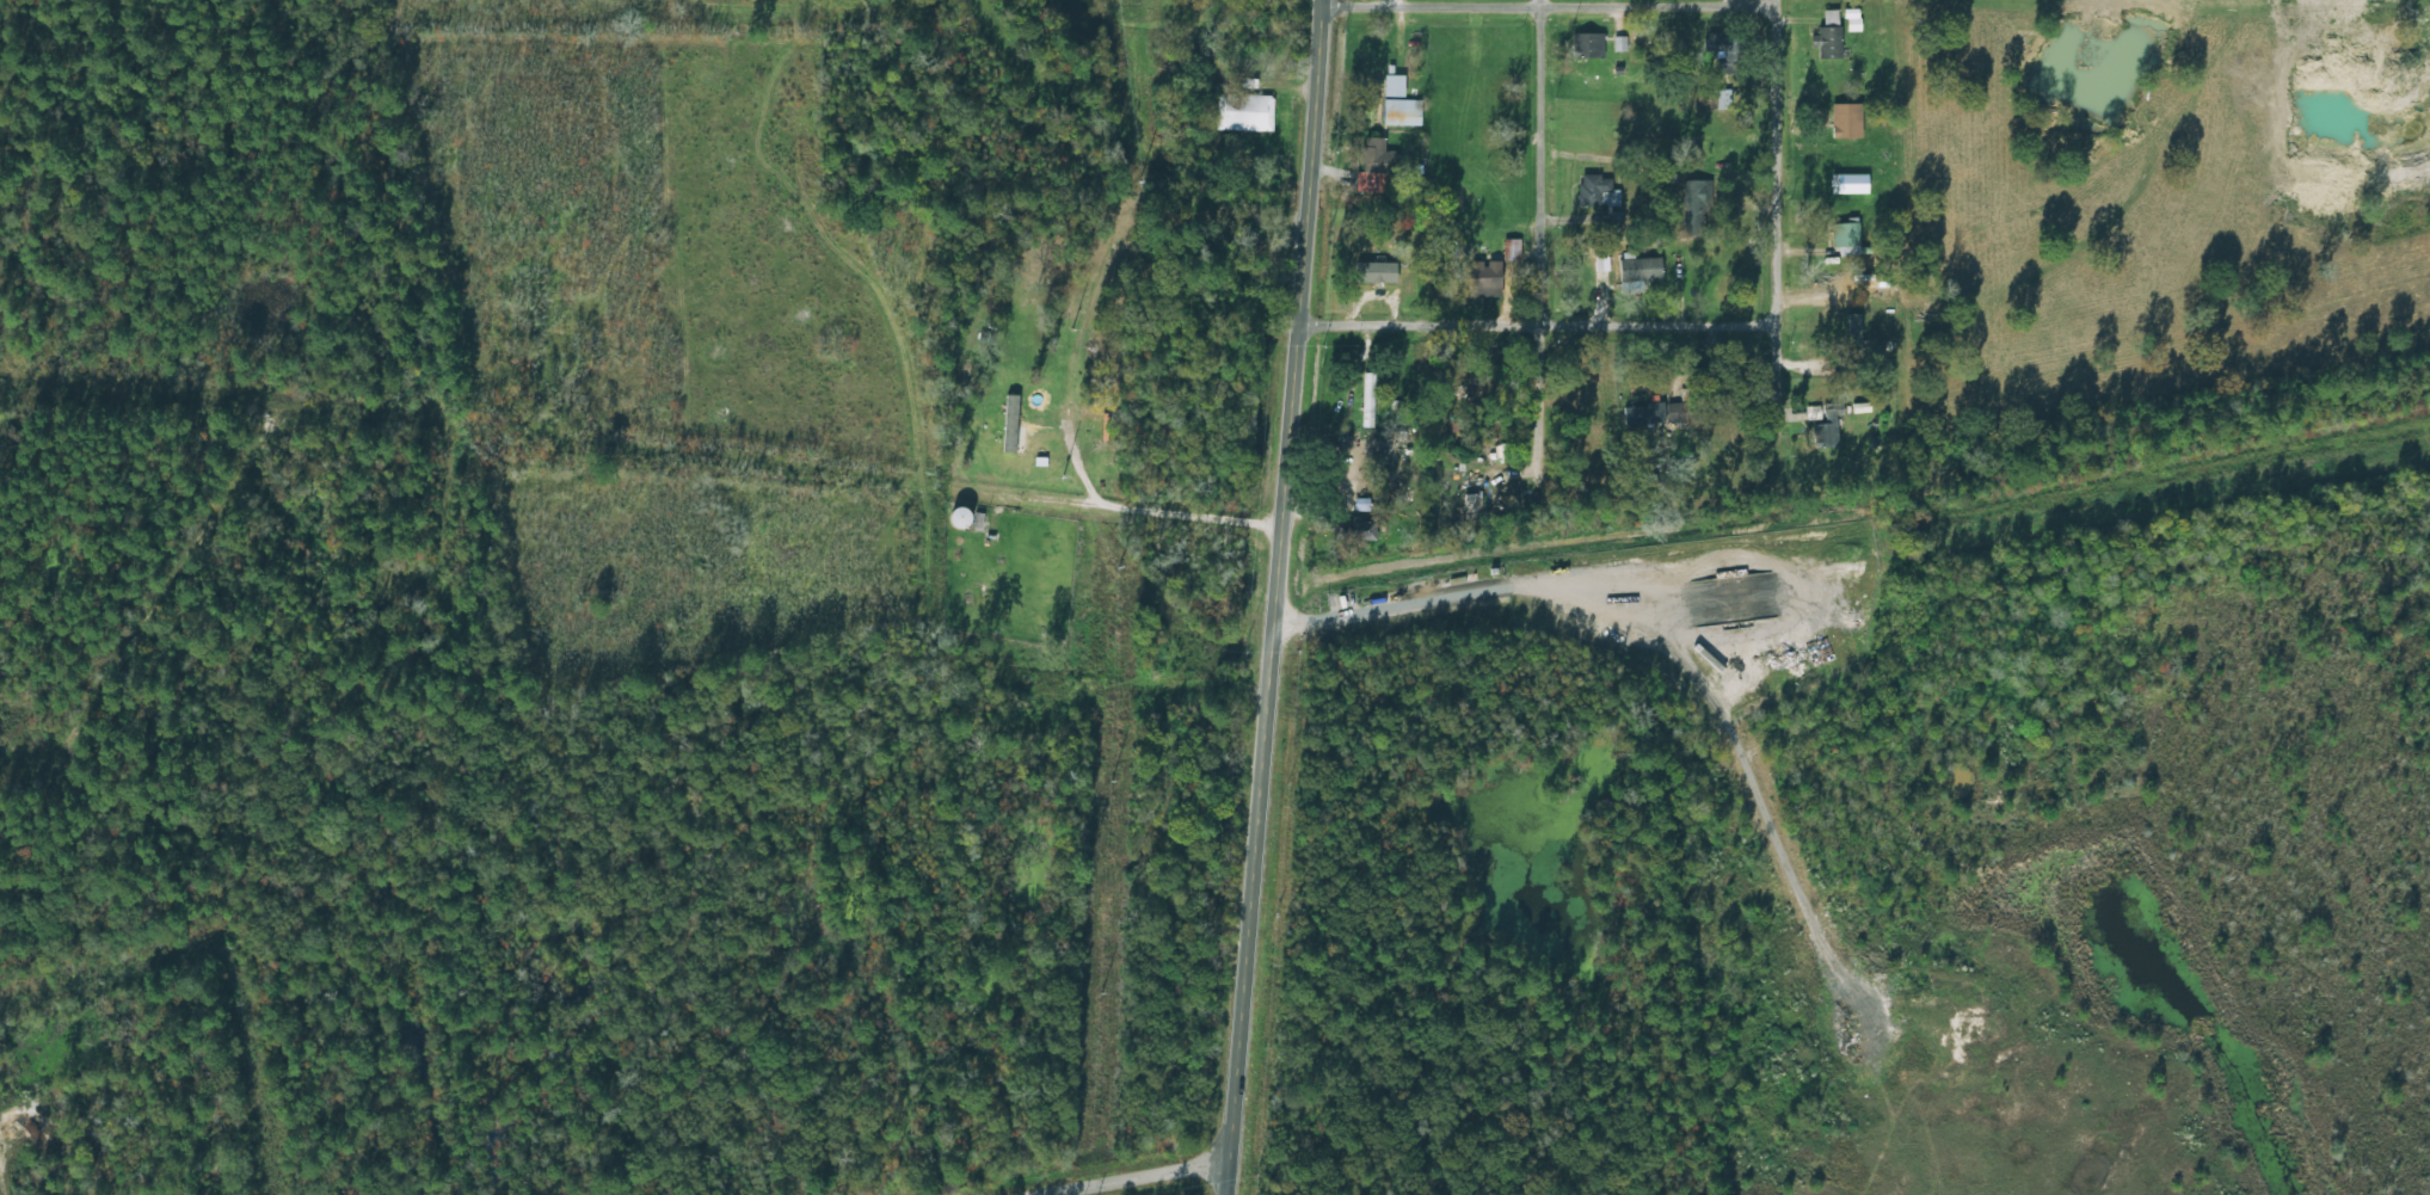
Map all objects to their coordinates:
road: (1362, 5)
building: (1827, 35)
building: (1588, 45)
building: (1723, 49)
building: (1395, 85)
building: (1723, 99)
building: (1245, 112)
building: (1403, 112)
building: (1823, 118)
building: (1376, 165)
building: (1594, 191)
building: (1694, 209)
building: (1614, 220)
road: (1761, 228)
road: (1524, 242)
building: (1512, 250)
building: (1392, 259)
building: (1641, 270)
building: (1485, 279)
road: (891, 282)
road: (1519, 304)
building: (1825, 329)
building: (1368, 400)
building: (1655, 413)
road: (640, 414)
building: (1826, 425)
building: (1011, 433)
road: (443, 510)
building: (970, 518)
road: (1848, 528)
building: (1353, 530)
road: (159, 548)
road: (1273, 597)
road: (1136, 1179)

